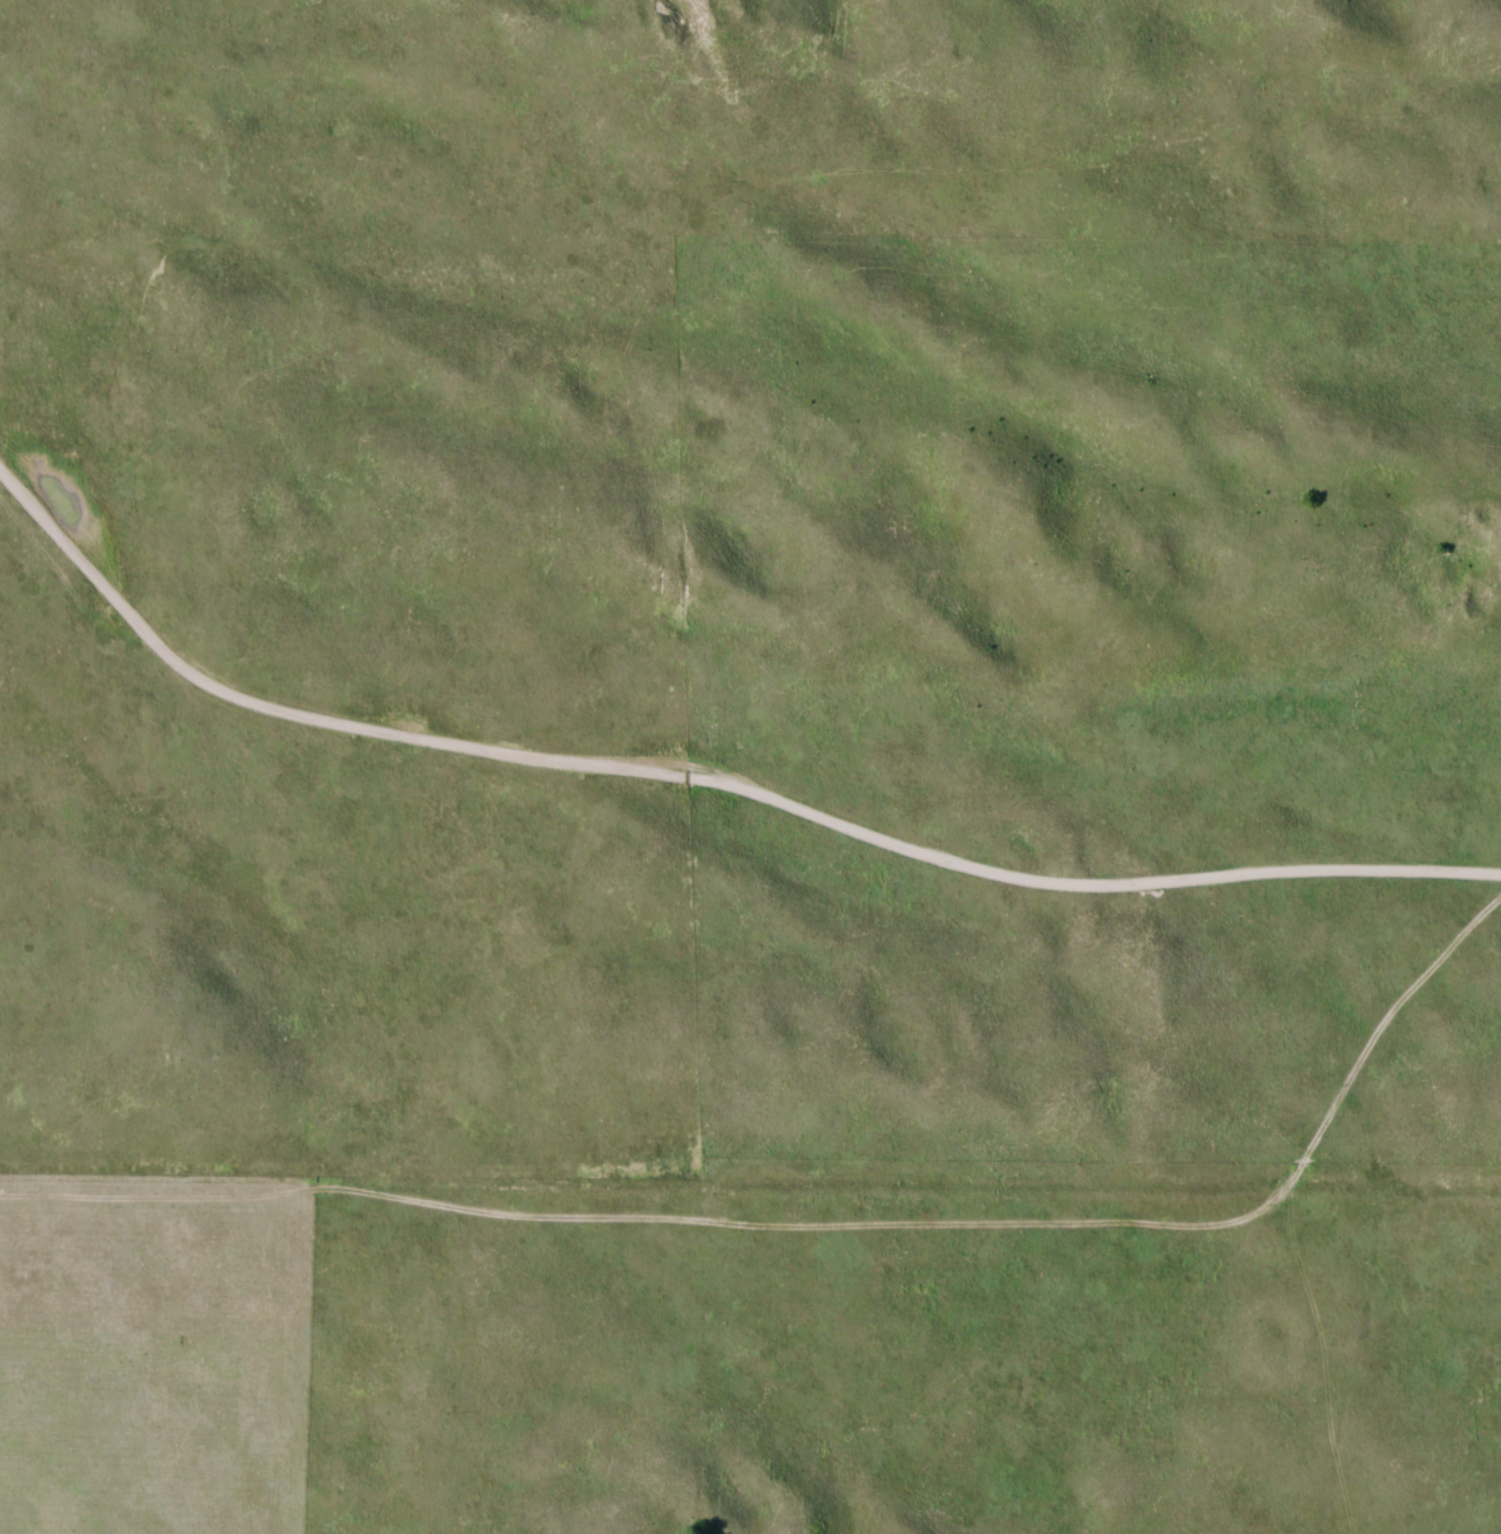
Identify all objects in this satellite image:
road: (705, 780)

